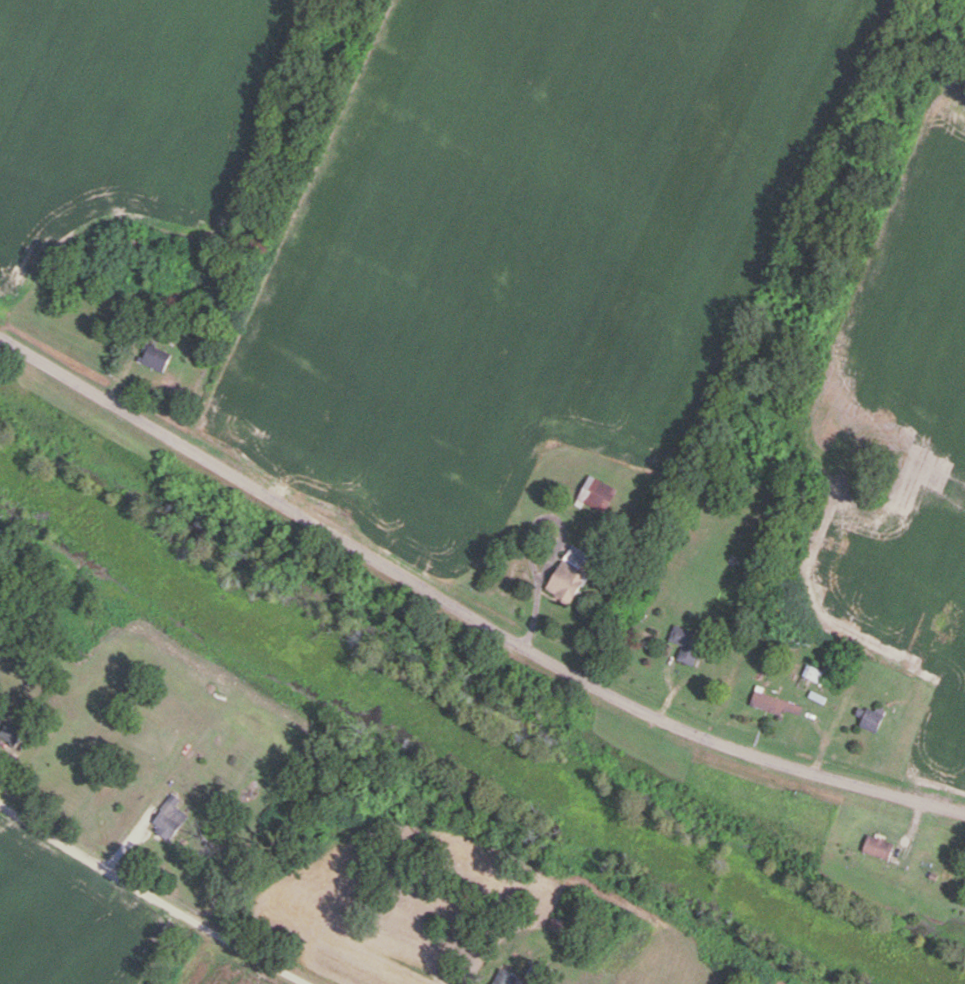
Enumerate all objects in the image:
building: (160, 358)
building: (594, 491)
building: (562, 582)
road: (464, 614)
building: (684, 644)
building: (811, 673)
building: (771, 703)
building: (870, 717)
building: (172, 817)
building: (874, 847)
building: (964, 878)
road: (153, 897)
building: (501, 977)

